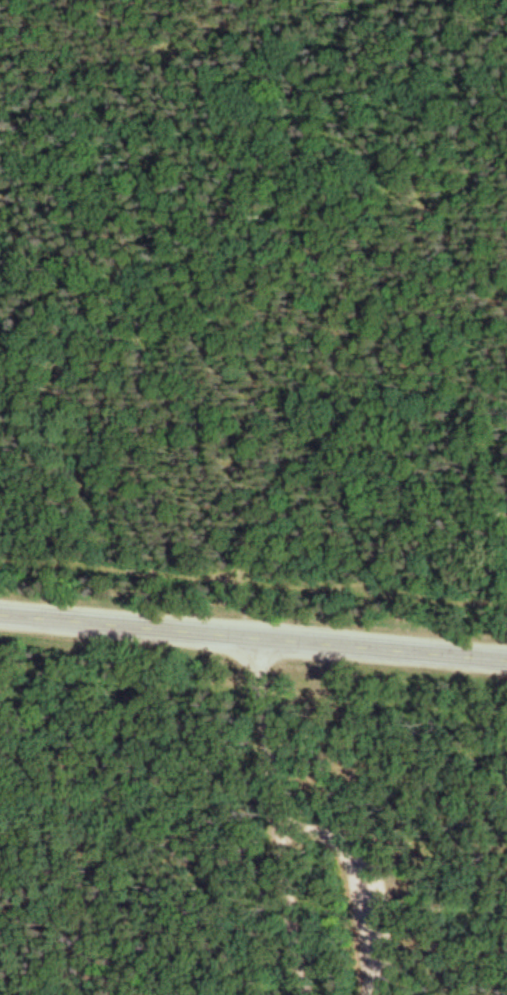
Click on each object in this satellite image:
road: (337, 384)
road: (253, 639)
road: (261, 717)
road: (162, 872)
road: (359, 884)
road: (284, 894)
parking lot: (364, 919)

